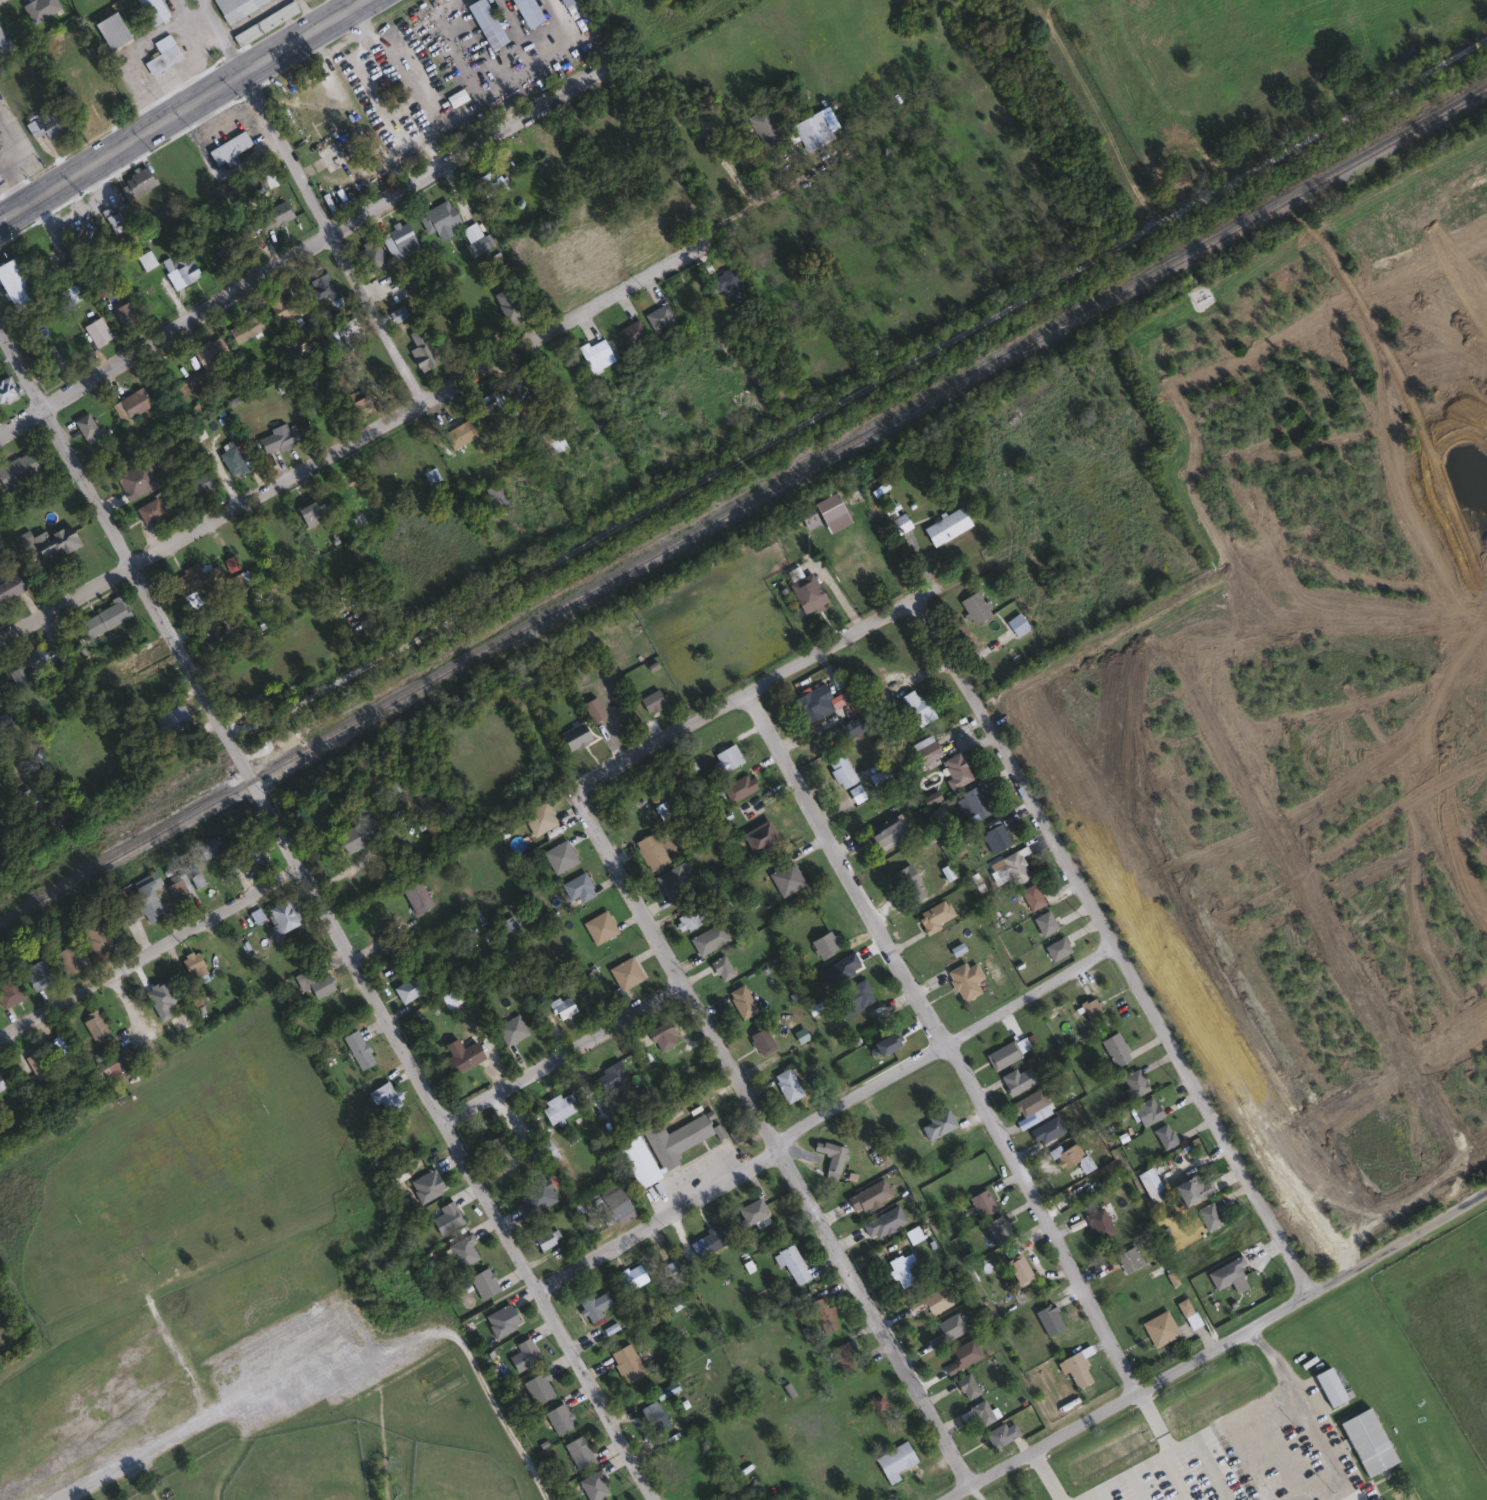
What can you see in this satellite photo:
road: (346, 2)
building: (564, 2)
building: (234, 7)
building: (150, 10)
road: (313, 11)
building: (526, 11)
road: (249, 15)
building: (263, 21)
building: (484, 22)
building: (109, 29)
road: (222, 34)
building: (3, 42)
building: (157, 56)
road: (404, 79)
building: (454, 96)
road: (177, 107)
building: (45, 122)
building: (763, 126)
road: (11, 143)
building: (228, 146)
building: (326, 153)
road: (8, 175)
building: (0, 179)
building: (136, 180)
building: (487, 182)
road: (18, 190)
road: (762, 197)
building: (273, 214)
building: (437, 218)
building: (113, 219)
road: (329, 235)
building: (398, 241)
building: (34, 243)
road: (300, 248)
building: (225, 252)
building: (371, 255)
building: (144, 259)
building: (70, 268)
building: (178, 269)
building: (318, 281)
building: (13, 284)
building: (70, 293)
building: (507, 305)
building: (279, 307)
building: (691, 309)
building: (124, 314)
building: (657, 316)
building: (95, 330)
building: (629, 332)
building: (286, 348)
building: (209, 350)
building: (593, 352)
building: (420, 353)
building: (46, 357)
building: (553, 375)
building: (5, 389)
building: (740, 395)
building: (354, 399)
building: (129, 404)
building: (486, 405)
building: (322, 421)
building: (84, 427)
building: (458, 433)
building: (276, 437)
road: (352, 438)
building: (550, 440)
building: (404, 452)
building: (234, 459)
building: (16, 470)
building: (136, 481)
building: (198, 485)
building: (340, 491)
building: (495, 496)
railway: (743, 500)
building: (148, 510)
building: (808, 518)
building: (945, 526)
building: (281, 529)
building: (52, 541)
building: (185, 580)
building: (9, 586)
building: (806, 592)
road: (925, 592)
building: (973, 606)
building: (102, 618)
building: (1016, 624)
building: (214, 637)
building: (29, 664)
road: (738, 693)
building: (651, 700)
building: (812, 702)
building: (915, 706)
building: (169, 721)
building: (850, 726)
building: (925, 751)
building: (725, 758)
building: (840, 771)
building: (954, 771)
building: (738, 787)
building: (929, 797)
building: (973, 801)
building: (659, 802)
building: (538, 818)
building: (887, 831)
building: (355, 834)
building: (758, 836)
building: (997, 836)
building: (208, 847)
building: (650, 851)
building: (559, 856)
building: (248, 858)
building: (1010, 867)
building: (785, 878)
building: (672, 882)
building: (907, 883)
building: (576, 887)
building: (176, 891)
building: (415, 896)
building: (1030, 897)
building: (146, 904)
building: (129, 914)
building: (282, 914)
road: (327, 916)
building: (934, 916)
building: (690, 918)
building: (1043, 923)
building: (598, 927)
building: (95, 937)
building: (707, 938)
road: (1117, 941)
building: (823, 943)
building: (1055, 948)
road: (149, 950)
building: (66, 960)
building: (190, 962)
building: (720, 968)
building: (37, 973)
building: (624, 973)
building: (963, 980)
building: (320, 985)
building: (408, 988)
building: (9, 991)
building: (851, 997)
building: (740, 1001)
building: (561, 1007)
building: (1089, 1008)
building: (92, 1024)
building: (510, 1029)
building: (661, 1037)
road: (942, 1038)
building: (761, 1041)
building: (55, 1049)
building: (357, 1049)
building: (1114, 1049)
road: (564, 1055)
building: (1001, 1056)
building: (34, 1060)
building: (456, 1061)
building: (103, 1067)
building: (1015, 1081)
building: (605, 1082)
building: (1132, 1082)
building: (786, 1085)
building: (1, 1086)
building: (383, 1096)
building: (1030, 1104)
building: (557, 1107)
road: (822, 1110)
building: (1145, 1111)
building: (933, 1125)
building: (1045, 1130)
building: (1163, 1135)
building: (674, 1140)
road: (772, 1141)
building: (499, 1152)
building: (532, 1154)
building: (1068, 1157)
building: (829, 1158)
building: (637, 1161)
building: (1147, 1181)
building: (425, 1186)
building: (1194, 1187)
building: (867, 1196)
building: (534, 1198)
building: (981, 1203)
building: (621, 1209)
building: (751, 1212)
building: (1207, 1216)
building: (444, 1218)
building: (607, 1218)
building: (882, 1223)
building: (1098, 1224)
building: (997, 1228)
building: (713, 1238)
building: (544, 1239)
building: (462, 1251)
building: (1127, 1260)
building: (156, 1261)
building: (792, 1264)
building: (901, 1269)
building: (1017, 1270)
building: (1225, 1273)
building: (630, 1277)
building: (482, 1283)
building: (593, 1305)
building: (823, 1314)
building: (1048, 1319)
building: (500, 1320)
road: (353, 1327)
building: (1158, 1328)
road: (1213, 1345)
building: (844, 1353)
building: (522, 1354)
building: (625, 1362)
building: (965, 1384)
building: (1328, 1386)
building: (537, 1387)
building: (879, 1402)
road: (1312, 1407)
building: (976, 1412)
building: (558, 1417)
building: (653, 1417)
building: (1000, 1433)
building: (1366, 1441)
building: (577, 1449)
road: (142, 1451)
road: (1207, 1456)
road: (1160, 1458)
building: (893, 1460)
road: (1045, 1474)
building: (593, 1484)

